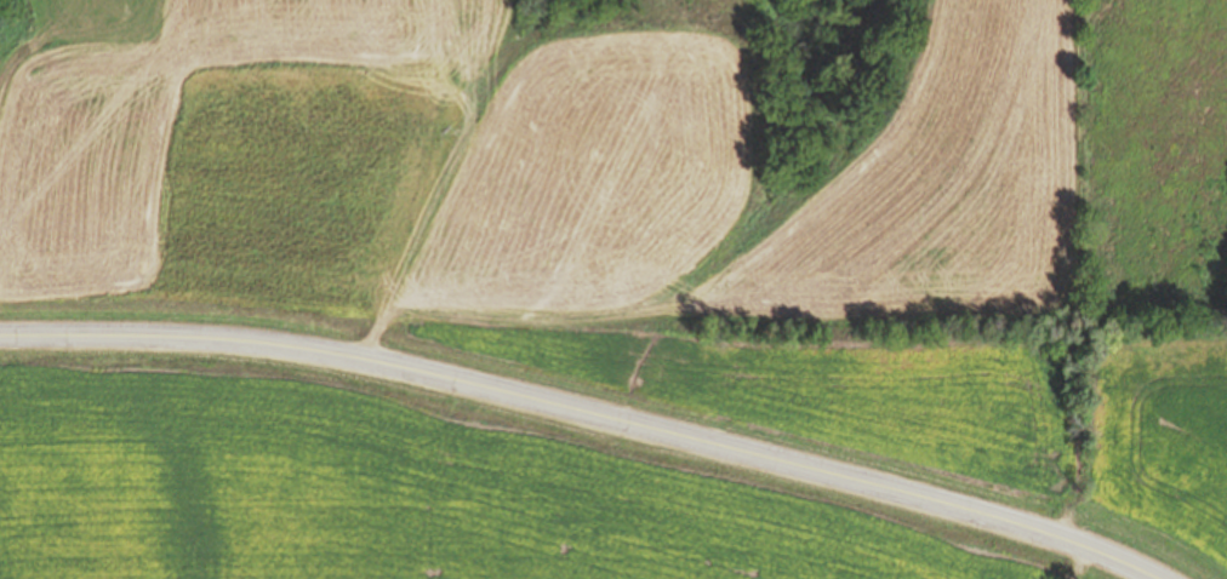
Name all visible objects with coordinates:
road: (581, 412)

